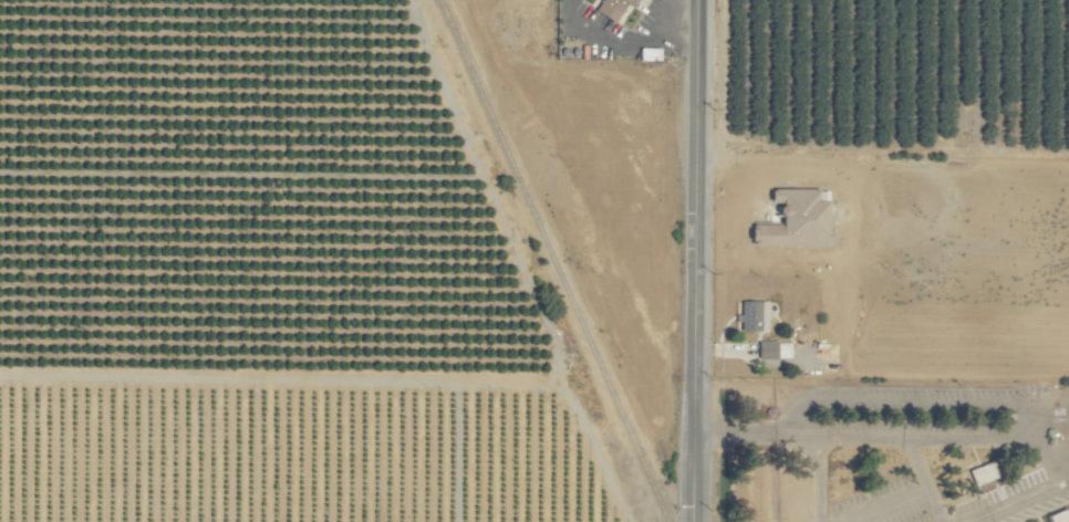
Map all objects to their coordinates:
building: (616, 10)
road: (624, 44)
building: (798, 221)
crop: (534, 261)
railway: (553, 261)
road: (700, 261)
building: (756, 316)
building: (776, 349)
road: (759, 436)
road: (992, 443)
building: (986, 472)
road: (820, 480)
road: (924, 481)
building: (1057, 520)

